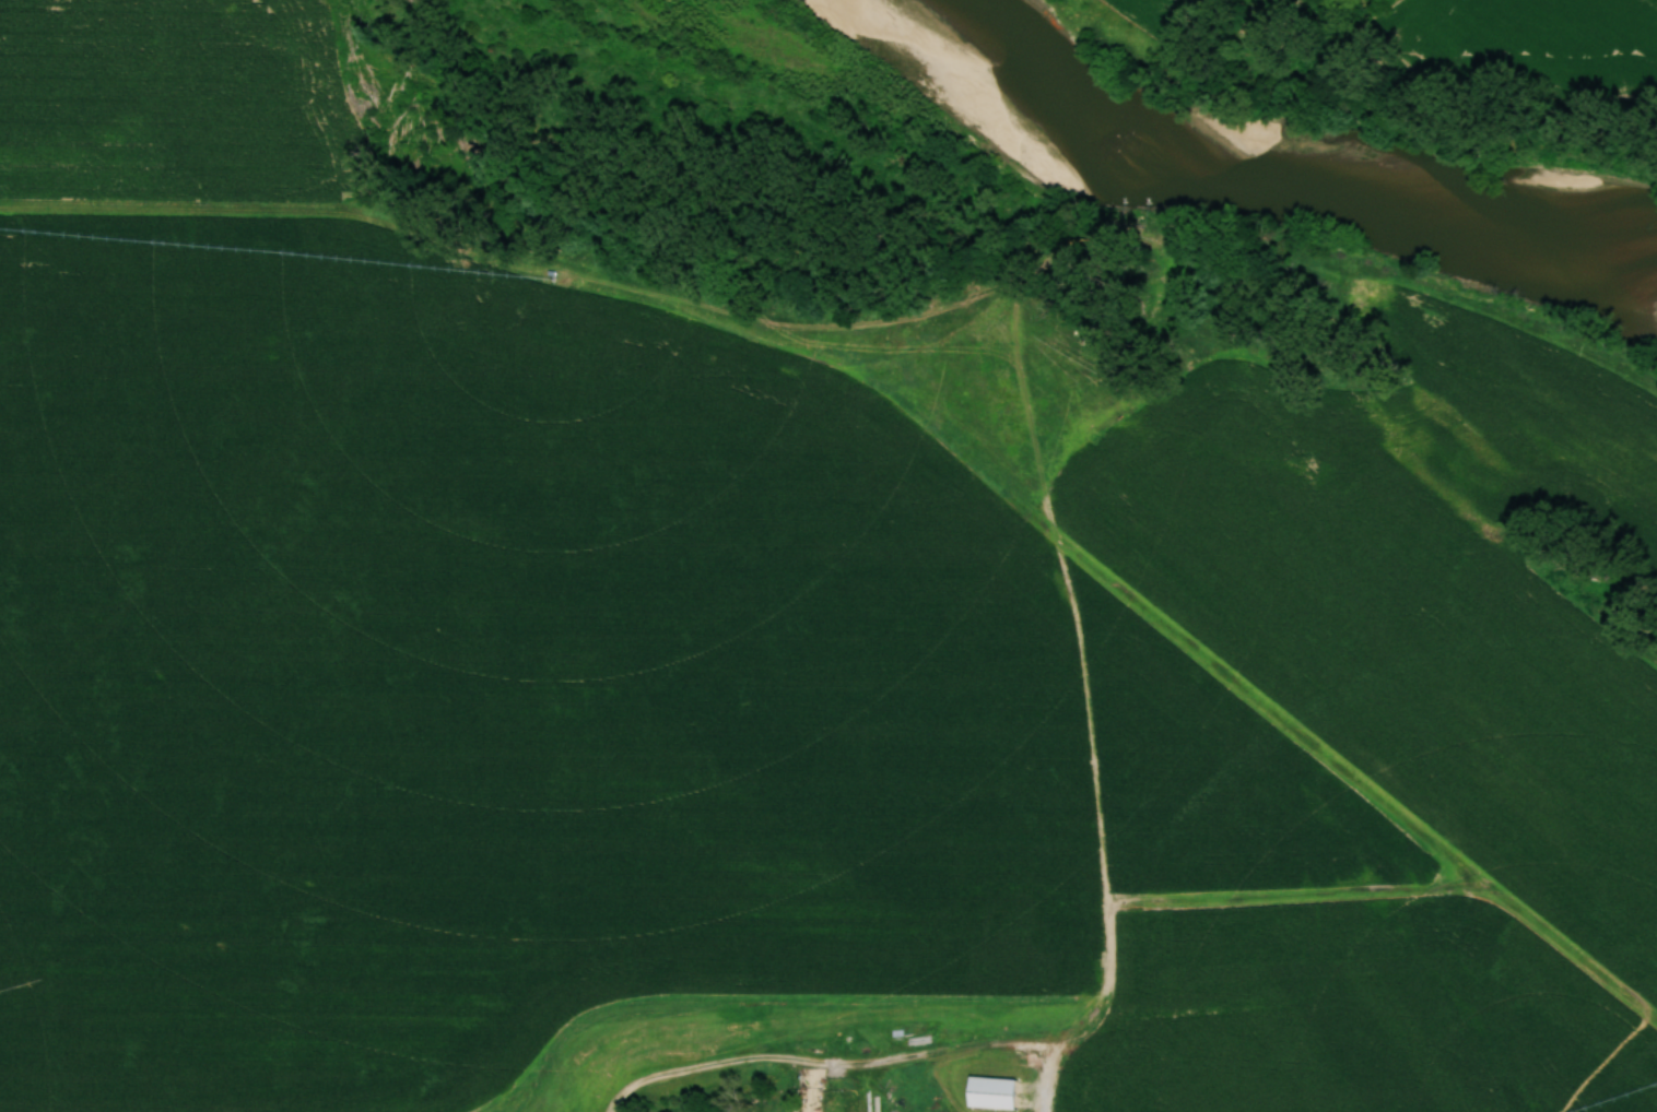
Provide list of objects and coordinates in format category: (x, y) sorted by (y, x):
river: (1249, 185)
road: (849, 1063)
building: (991, 1092)

